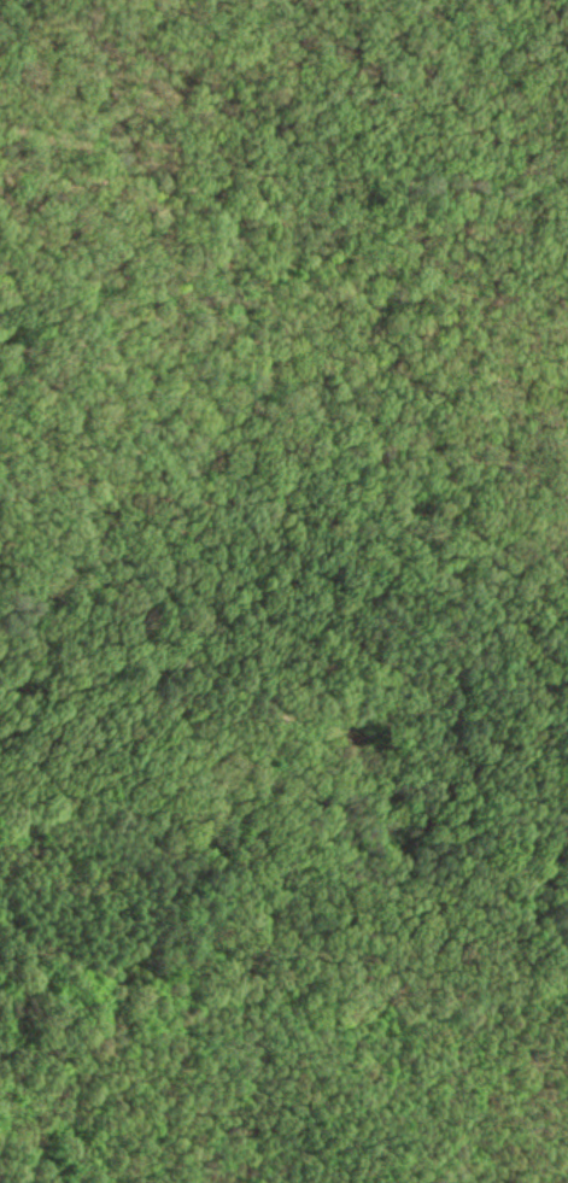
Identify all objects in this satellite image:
road: (286, 787)

